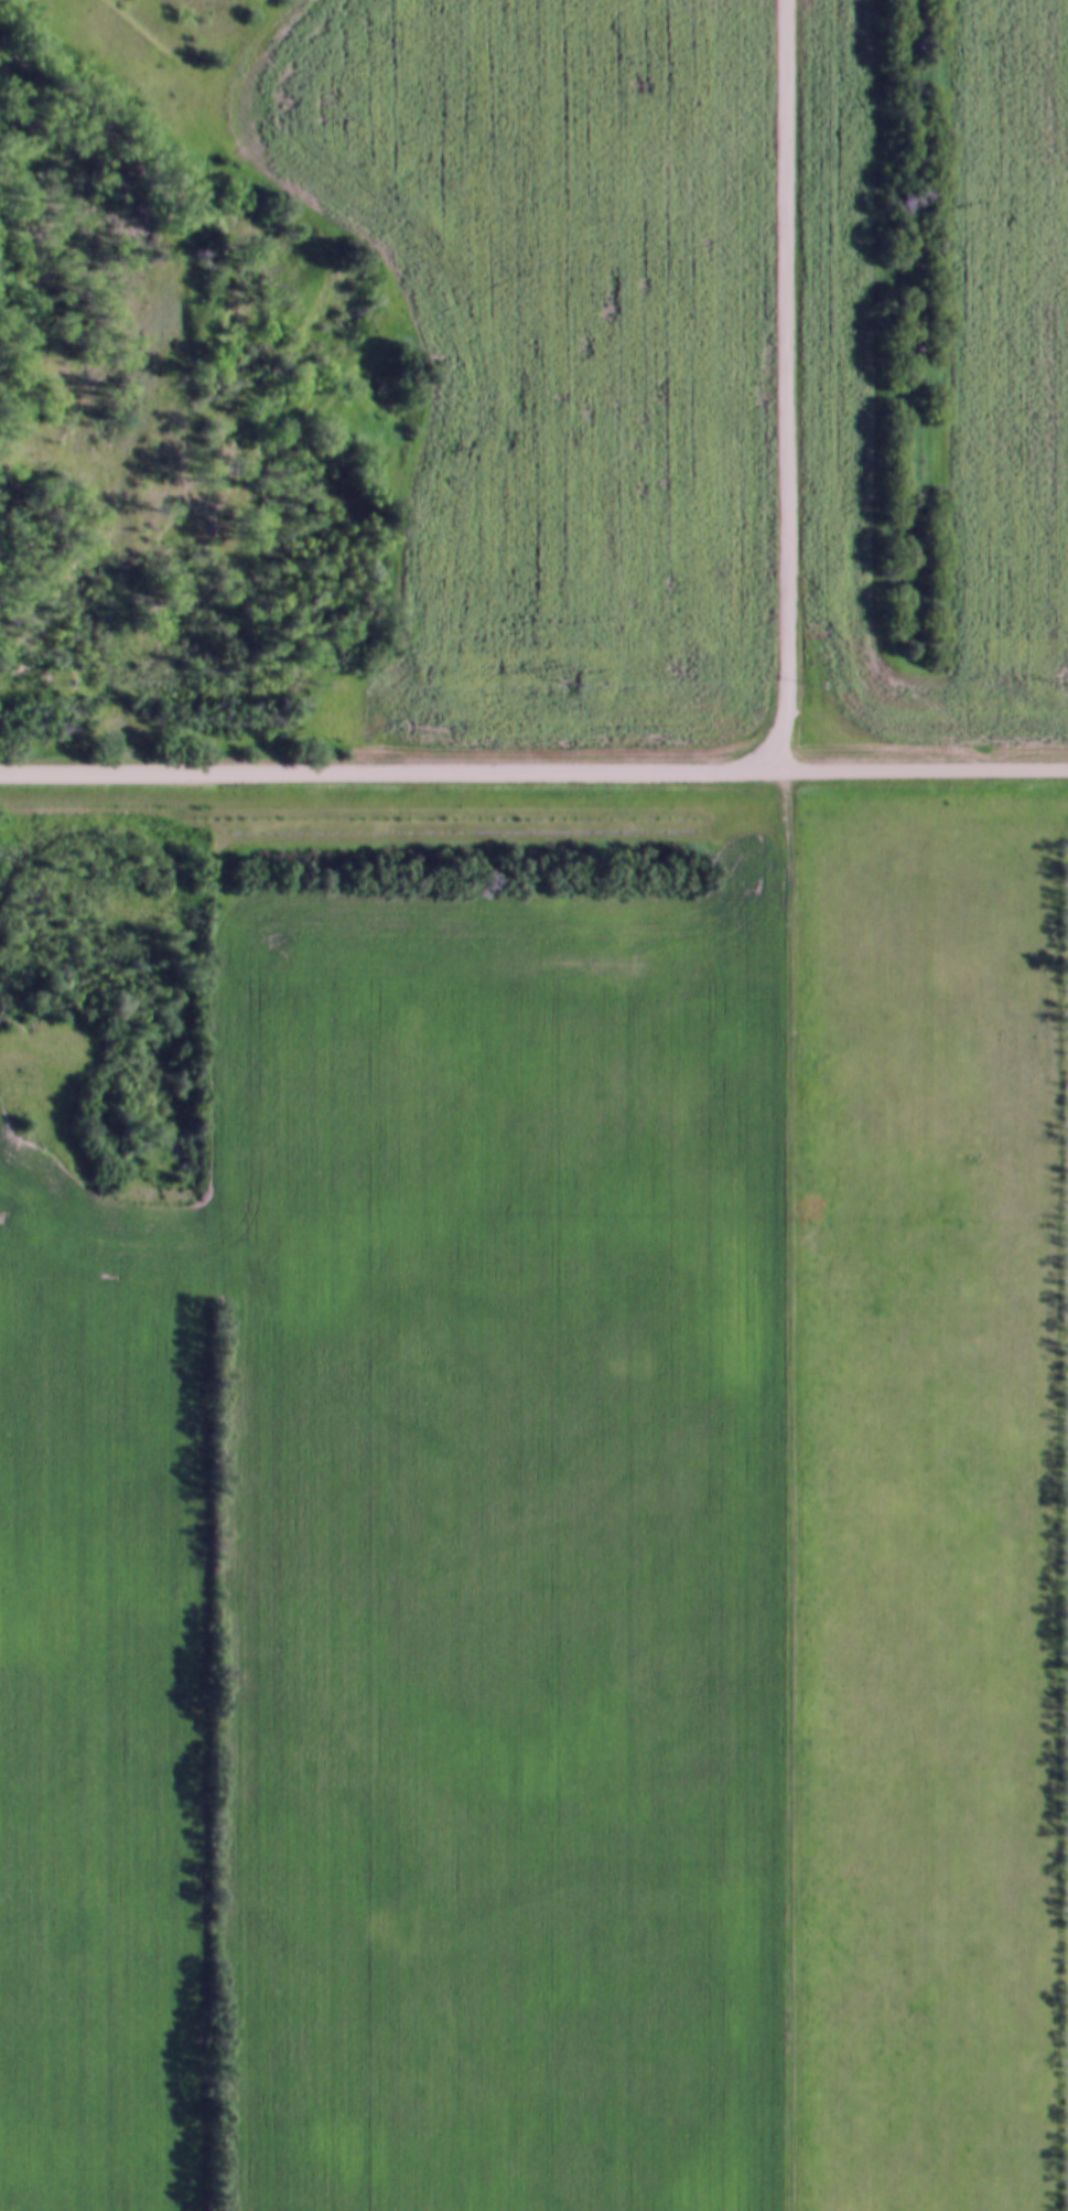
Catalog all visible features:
road: (533, 773)
road: (784, 1105)

